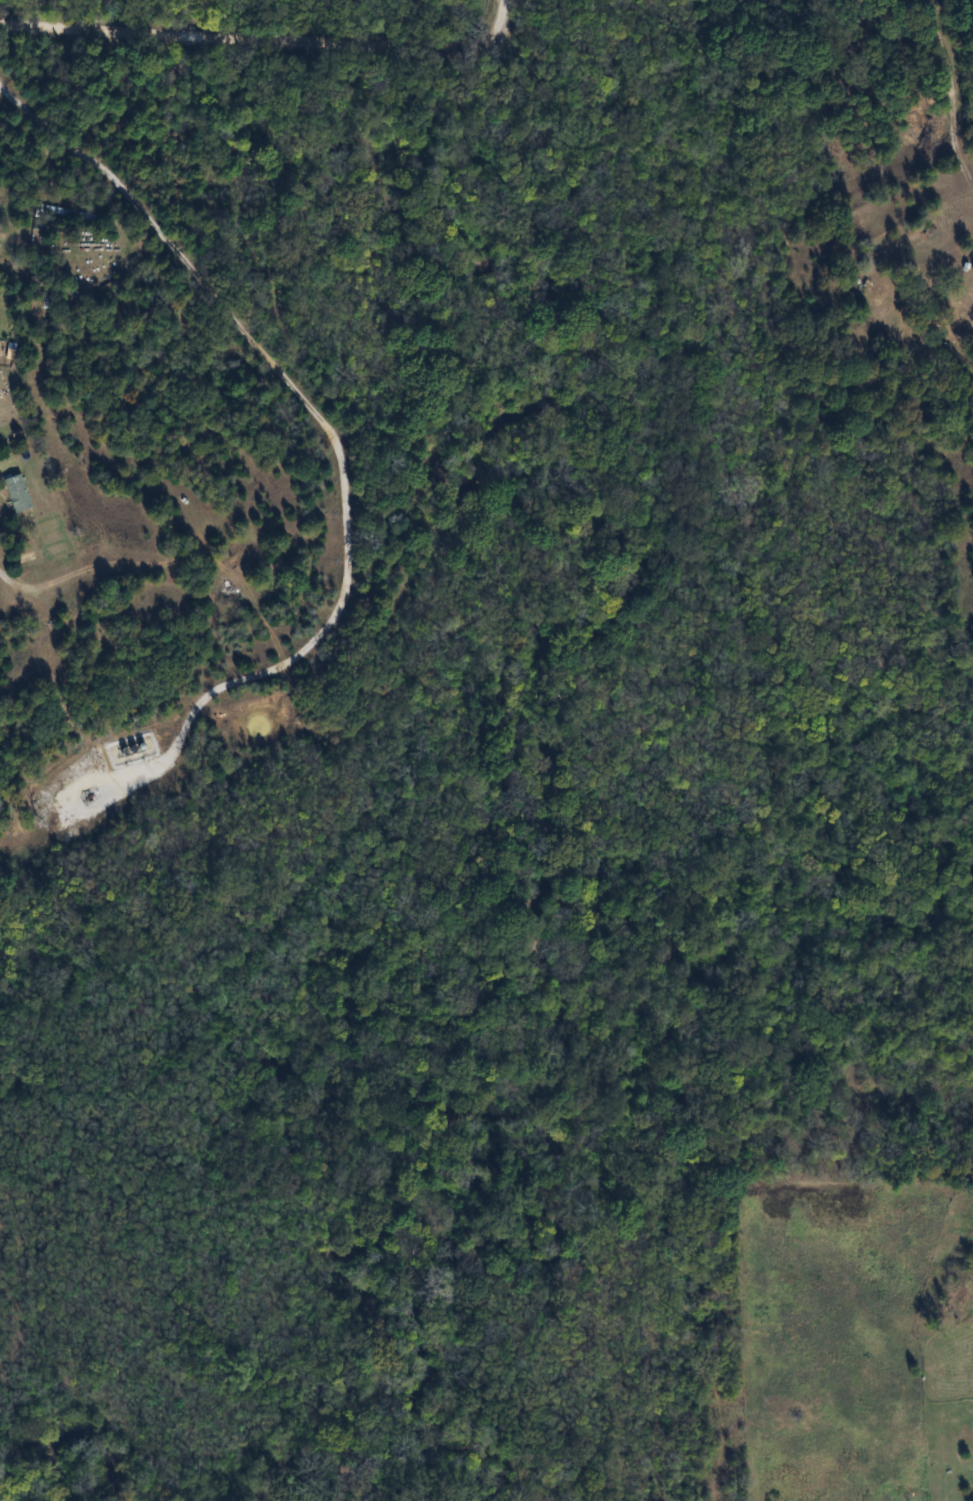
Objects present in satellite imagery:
road: (270, 38)
road: (953, 99)
building: (943, 326)
building: (16, 493)
road: (23, 583)

